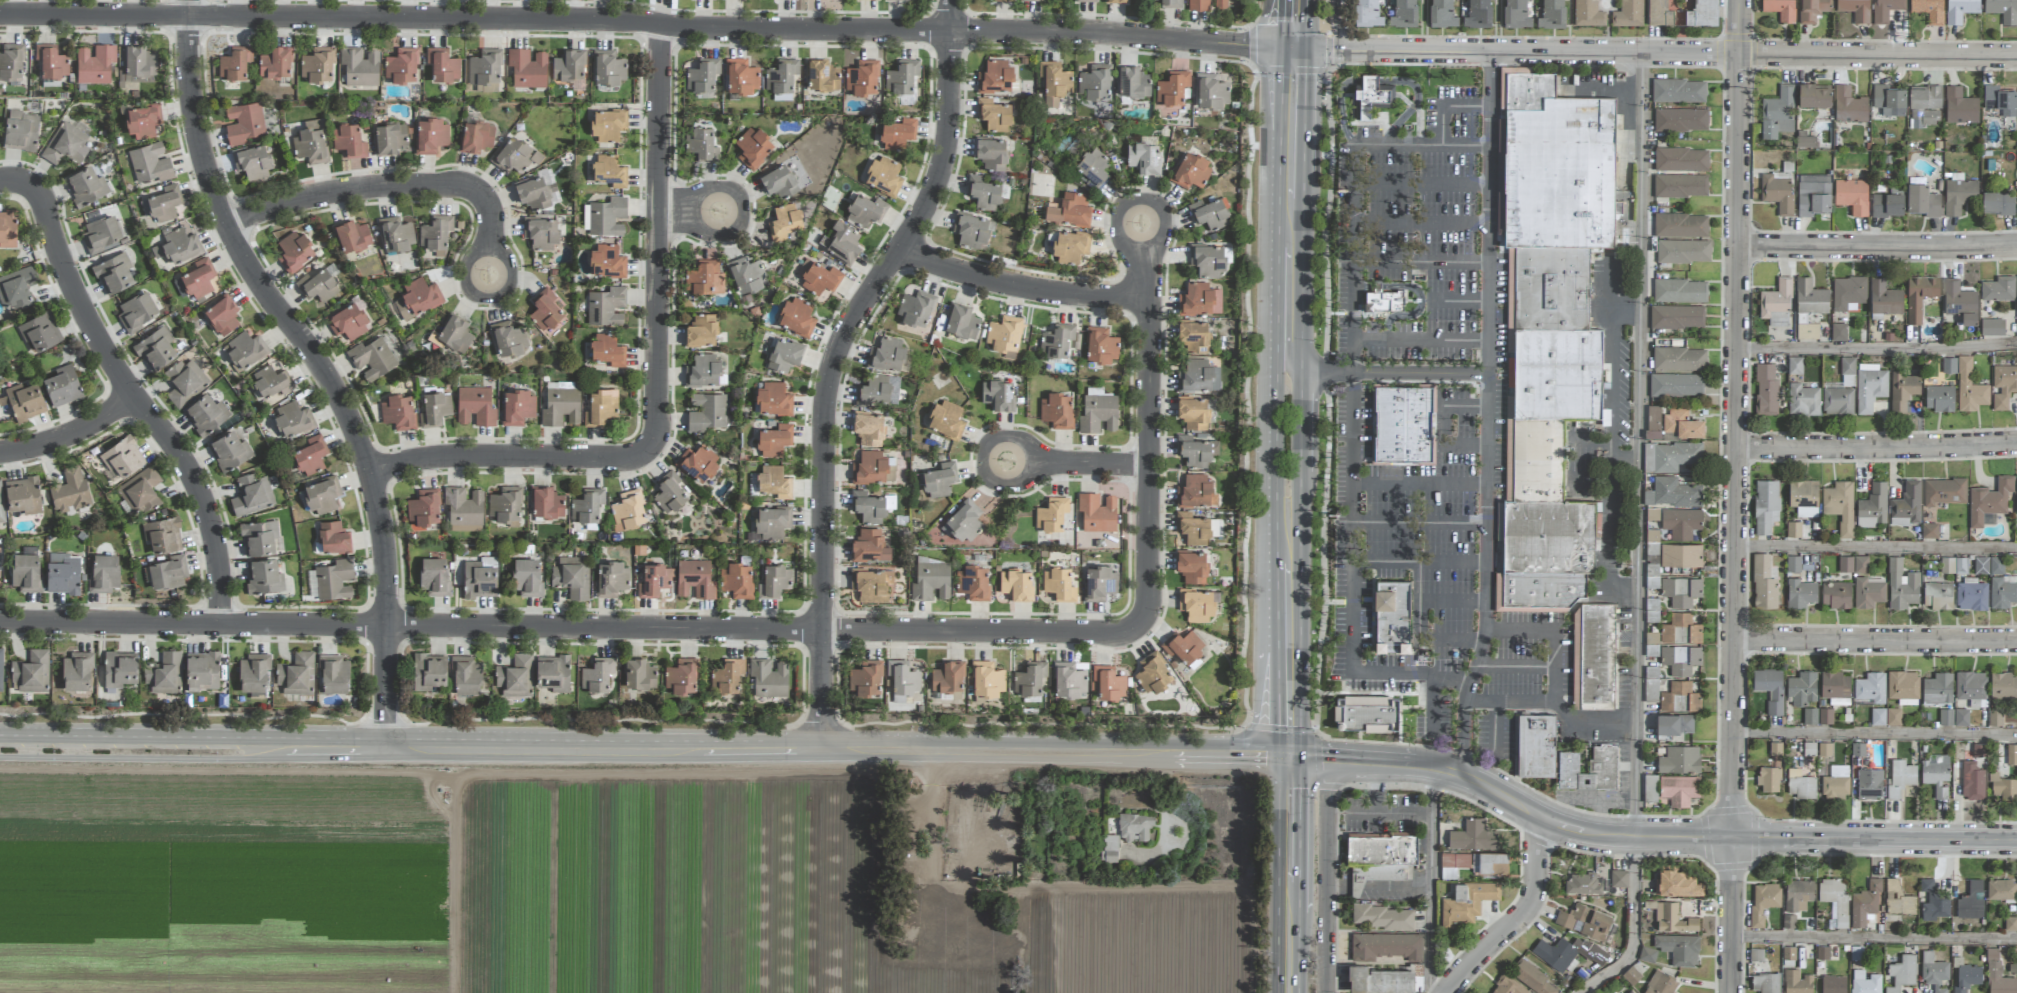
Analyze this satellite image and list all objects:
building: (872, 0)
building: (897, 0)
building: (1004, 0)
building: (1030, 0)
building: (1085, 1)
building: (1116, 1)
building: (1171, 4)
building: (1220, 4)
building: (1198, 5)
building: (1780, 9)
building: (1854, 9)
building: (1813, 10)
building: (1886, 10)
building: (1928, 10)
building: (1960, 10)
building: (2003, 10)
building: (1587, 13)
building: (1659, 13)
building: (1702, 13)
building: (1367, 14)
building: (1404, 14)
building: (1442, 14)
building: (1478, 14)
building: (1628, 14)
building: (1516, 15)
building: (1551, 15)
road: (639, 20)
road: (1279, 24)
road: (1305, 25)
road: (1336, 25)
traffic signals: (1278, 49)
road: (1291, 50)
traffic signals: (1305, 51)
road: (1321, 51)
road: (1677, 53)
building: (10, 62)
building: (51, 62)
building: (234, 63)
building: (274, 63)
building: (94, 64)
building: (139, 65)
building: (317, 65)
building: (442, 65)
building: (359, 66)
building: (401, 66)
building: (568, 66)
building: (484, 67)
building: (527, 68)
building: (608, 68)
building: (703, 76)
building: (781, 76)
building: (822, 76)
building: (741, 77)
building: (902, 77)
building: (995, 77)
building: (861, 78)
building: (1054, 82)
building: (1094, 82)
building: (1133, 82)
building: (486, 88)
building: (1172, 90)
building: (1679, 91)
building: (1211, 92)
building: (1375, 97)
building: (1813, 97)
building: (1889, 100)
building: (2000, 100)
road: (1465, 106)
building: (1849, 106)
building: (1924, 106)
building: (1960, 106)
building: (1777, 113)
building: (992, 116)
building: (1681, 120)
building: (143, 122)
building: (243, 123)
road: (1441, 125)
building: (608, 126)
building: (20, 131)
building: (897, 134)
building: (430, 136)
building: (475, 137)
building: (389, 138)
building: (349, 141)
building: (310, 143)
building: (66, 144)
building: (703, 144)
building: (753, 147)
building: (991, 154)
building: (516, 157)
building: (1143, 158)
building: (1681, 160)
building: (252, 162)
building: (150, 163)
building: (1091, 168)
building: (609, 171)
building: (1192, 172)
building: (884, 176)
building: (779, 182)
road: (1421, 183)
building: (1680, 186)
building: (86, 187)
road: (394, 187)
building: (1777, 191)
building: (536, 193)
building: (983, 193)
building: (1813, 195)
building: (1852, 196)
building: (1959, 196)
building: (1922, 201)
building: (1998, 203)
building: (161, 205)
building: (1887, 205)
building: (865, 210)
building: (1069, 210)
road: (690, 212)
building: (1209, 214)
building: (607, 217)
building: (784, 222)
road: (1420, 223)
building: (1681, 225)
building: (7, 229)
building: (971, 230)
building: (101, 233)
building: (541, 233)
building: (395, 234)
building: (436, 235)
road: (661, 235)
building: (352, 236)
building: (843, 243)
building: (174, 245)
building: (1070, 247)
road: (1876, 248)
building: (295, 251)
building: (1683, 251)
road: (1141, 260)
building: (1208, 260)
building: (607, 262)
road: (1420, 262)
building: (114, 274)
building: (746, 275)
building: (703, 276)
building: (818, 277)
building: (198, 280)
building: (318, 286)
building: (16, 288)
road: (1018, 288)
building: (1998, 289)
building: (1680, 291)
building: (1848, 293)
road: (1286, 296)
building: (1919, 296)
building: (417, 298)
building: (1884, 298)
building: (1199, 300)
road: (1457, 301)
building: (1384, 302)
building: (1959, 302)
building: (1776, 304)
building: (606, 307)
building: (1809, 308)
building: (914, 309)
building: (545, 310)
building: (136, 312)
building: (221, 316)
building: (797, 316)
building: (1677, 317)
building: (348, 322)
building: (961, 322)
road: (1152, 324)
building: (1992, 327)
building: (1551, 329)
building: (701, 330)
building: (38, 331)
building: (1838, 332)
building: (453, 334)
building: (1003, 336)
building: (1194, 337)
building: (508, 339)
road: (1420, 340)
building: (1057, 341)
building: (1100, 345)
building: (155, 349)
building: (244, 349)
building: (608, 350)
road: (1875, 350)
building: (783, 355)
building: (886, 355)
building: (372, 358)
building: (1679, 359)
road: (836, 361)
road: (319, 363)
building: (703, 371)
road: (1394, 372)
building: (1197, 377)
building: (185, 382)
building: (271, 383)
building: (1676, 385)
building: (62, 386)
building: (2003, 386)
building: (1869, 387)
building: (1969, 388)
building: (875, 389)
building: (1766, 390)
road: (129, 391)
building: (1840, 391)
building: (1902, 391)
road: (1245, 394)
building: (998, 395)
building: (1939, 398)
building: (774, 399)
road: (1326, 400)
building: (1803, 400)
building: (24, 401)
road: (1352, 402)
road: (1274, 403)
road: (1300, 403)
building: (475, 406)
road: (1464, 406)
building: (517, 407)
building: (434, 409)
building: (601, 409)
building: (1056, 410)
building: (397, 412)
building: (706, 412)
building: (1098, 413)
building: (1193, 413)
building: (205, 414)
road: (1487, 415)
building: (292, 419)
road: (1734, 419)
building: (947, 420)
building: (1653, 422)
building: (1682, 424)
building: (1403, 425)
building: (868, 429)
road: (71, 436)
building: (774, 440)
road: (1445, 445)
road: (1875, 448)
building: (229, 451)
building: (310, 456)
building: (1671, 456)
building: (123, 457)
road: (512, 458)
building: (698, 463)
road: (1078, 464)
building: (871, 468)
building: (939, 480)
building: (774, 482)
road: (1419, 483)
road: (1150, 487)
building: (140, 490)
building: (69, 491)
building: (1944, 491)
building: (1196, 492)
building: (670, 493)
building: (1673, 493)
building: (23, 495)
building: (251, 495)
building: (322, 495)
building: (2016, 496)
building: (1804, 498)
building: (1989, 500)
building: (546, 504)
building: (1906, 505)
building: (505, 506)
building: (1766, 506)
building: (1840, 506)
building: (1873, 506)
building: (587, 507)
building: (868, 507)
building: (1, 508)
building: (423, 508)
building: (463, 509)
building: (628, 510)
building: (1097, 513)
building: (1051, 514)
building: (964, 522)
road: (1418, 522)
building: (1681, 523)
building: (1652, 525)
building: (1191, 530)
building: (1929, 531)
building: (162, 535)
road: (1636, 535)
building: (260, 538)
building: (332, 538)
building: (869, 546)
road: (1875, 548)
building: (1681, 555)
road: (1418, 562)
building: (1846, 564)
building: (1861, 564)
building: (1988, 565)
building: (1191, 567)
building: (1651, 570)
building: (26, 572)
building: (63, 573)
building: (103, 574)
building: (167, 574)
building: (263, 576)
building: (435, 577)
building: (573, 577)
building: (527, 578)
building: (611, 579)
building: (695, 579)
building: (334, 580)
building: (479, 580)
building: (736, 580)
building: (931, 580)
building: (654, 581)
building: (774, 582)
building: (973, 582)
building: (1098, 583)
building: (1763, 583)
building: (1016, 584)
building: (1059, 584)
building: (871, 585)
building: (1901, 586)
building: (1681, 591)
building: (2003, 591)
building: (1800, 593)
building: (1868, 593)
building: (1836, 594)
building: (1938, 595)
building: (1971, 595)
road: (1452, 600)
building: (1196, 605)
building: (1392, 616)
road: (572, 629)
road: (1520, 630)
building: (1681, 630)
road: (1874, 640)
road: (1430, 641)
building: (1652, 644)
building: (1183, 646)
building: (1596, 655)
building: (1680, 659)
road: (1555, 666)
road: (1515, 667)
building: (1, 669)
building: (120, 669)
building: (202, 671)
building: (428, 671)
building: (31, 672)
building: (76, 672)
building: (164, 673)
building: (253, 673)
building: (553, 673)
building: (1153, 673)
building: (296, 674)
building: (333, 674)
building: (597, 675)
building: (639, 675)
building: (466, 676)
building: (681, 676)
building: (727, 676)
building: (515, 677)
building: (903, 677)
building: (768, 678)
building: (946, 678)
building: (1030, 678)
building: (866, 680)
building: (1069, 680)
building: (986, 681)
building: (1108, 683)
building: (1651, 684)
building: (1902, 685)
building: (1970, 685)
building: (2003, 686)
building: (1770, 688)
building: (1802, 688)
building: (1835, 688)
building: (1869, 689)
building: (1937, 689)
building: (1680, 698)
road: (1554, 702)
road: (1432, 708)
building: (1366, 714)
building: (1810, 716)
building: (1878, 716)
building: (1893, 717)
building: (1946, 717)
building: (1961, 717)
building: (1675, 724)
road: (1011, 726)
road: (1493, 730)
road: (1306, 731)
road: (1874, 734)
building: (1536, 746)
road: (644, 748)
building: (1775, 748)
building: (1858, 749)
building: (2012, 754)
traffic signals: (1289, 755)
building: (1679, 760)
building: (1588, 770)
building: (1935, 774)
building: (1900, 778)
building: (1769, 779)
building: (1972, 781)
building: (1836, 782)
building: (1869, 784)
building: (1800, 785)
road: (1330, 787)
building: (2003, 787)
building: (1650, 788)
building: (1679, 789)
road: (1509, 800)
road: (1377, 813)
building: (1134, 827)
building: (1474, 836)
road: (1873, 840)
building: (1109, 848)
building: (1383, 849)
building: (1489, 863)
building: (1453, 864)
road: (1288, 874)
road: (1326, 875)
road: (1430, 879)
building: (1619, 879)
crop: (607, 883)
building: (1677, 883)
building: (1583, 884)
road: (1378, 886)
building: (2002, 890)
building: (1798, 895)
building: (1898, 899)
building: (1834, 900)
building: (1763, 901)
building: (1970, 901)
building: (1467, 902)
building: (1933, 902)
building: (1864, 903)
road: (1732, 915)
road: (1518, 916)
building: (1382, 917)
building: (1672, 918)
building: (1585, 921)
building: (1788, 921)
road: (1875, 940)
building: (1387, 946)
building: (1679, 948)
building: (1556, 954)
building: (1647, 954)
building: (1788, 955)
building: (1934, 972)
building: (1902, 973)
building: (1997, 974)
building: (1531, 977)
building: (1966, 977)
building: (1380, 980)
building: (1766, 982)
building: (1797, 982)
building: (1865, 982)
building: (1661, 983)
building: (1833, 984)
building: (1508, 986)
building: (1629, 991)

